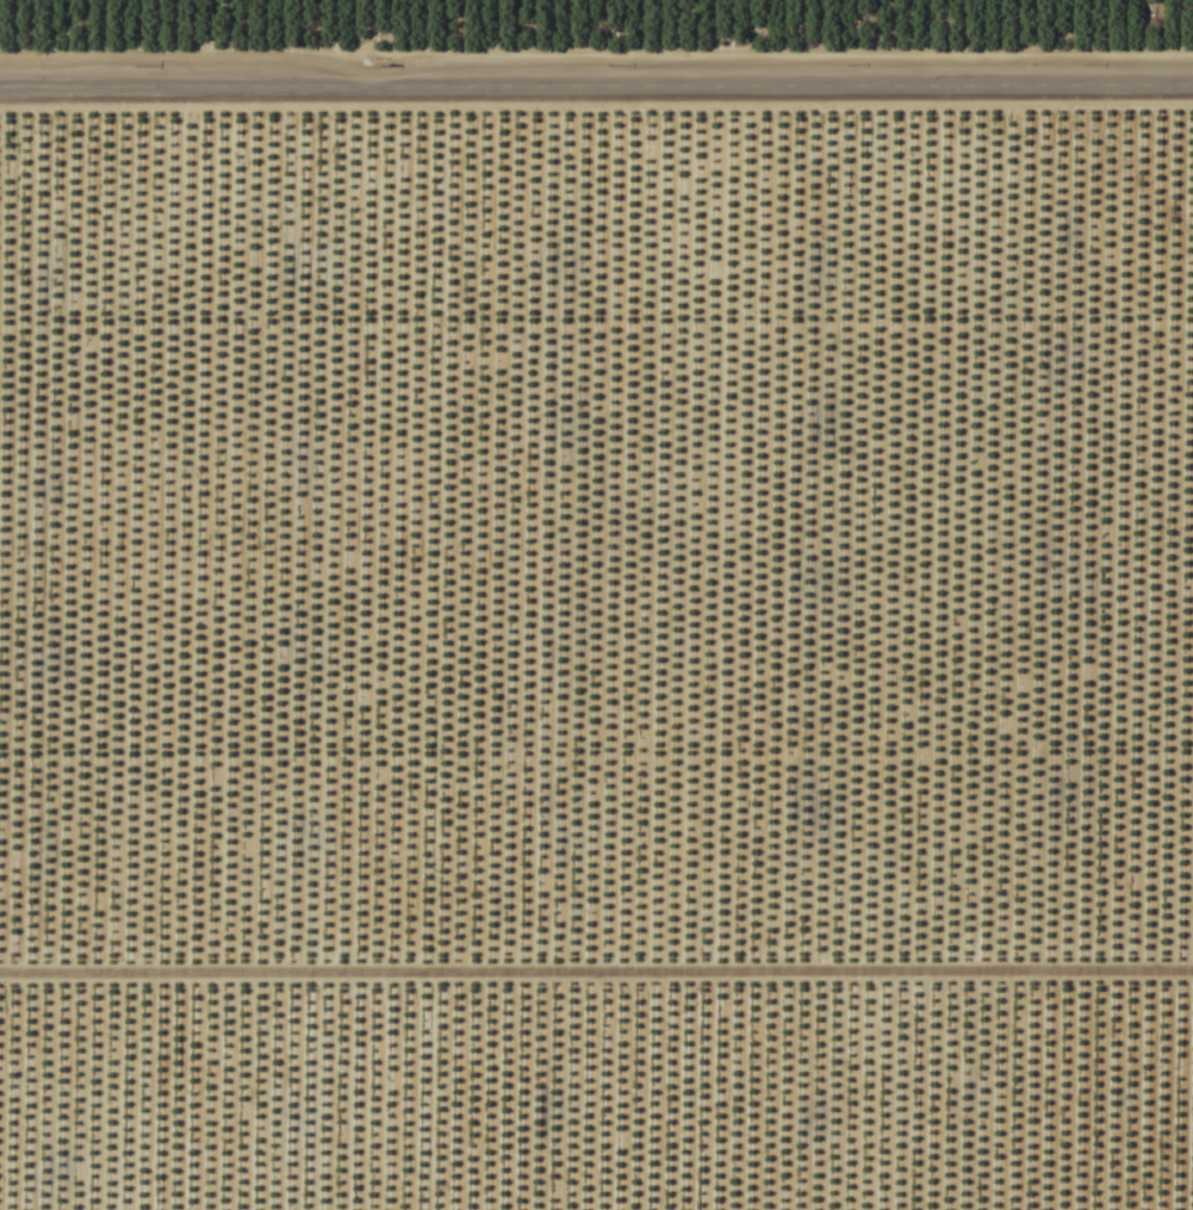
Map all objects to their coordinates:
road: (596, 91)
crop: (596, 604)

